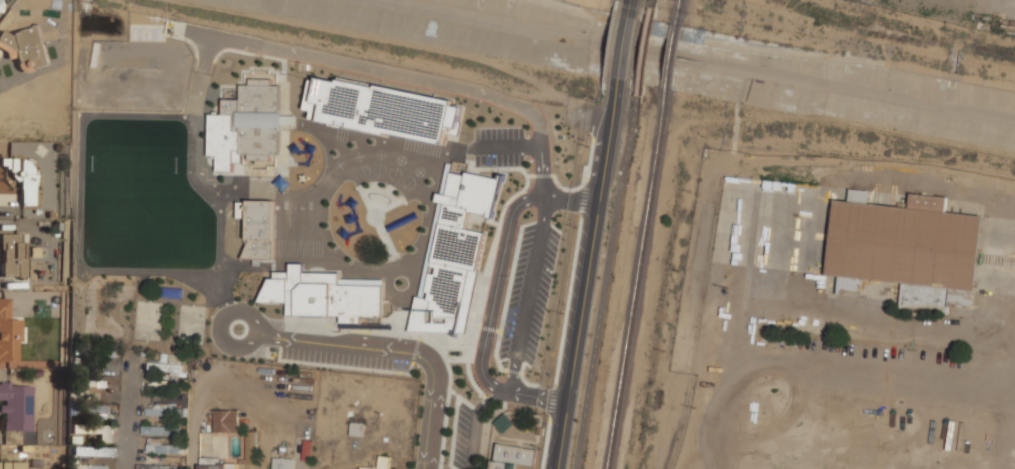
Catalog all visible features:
building: (1, 5)
road: (628, 6)
road: (645, 10)
railway: (678, 14)
road: (642, 30)
road: (640, 41)
building: (25, 47)
road: (621, 49)
road: (773, 52)
road: (639, 53)
railway: (671, 58)
building: (382, 108)
building: (257, 118)
building: (289, 119)
building: (22, 178)
building: (242, 208)
building: (342, 217)
building: (478, 237)
building: (907, 250)
building: (13, 255)
road: (606, 265)
road: (585, 277)
railway: (637, 278)
building: (462, 285)
building: (173, 292)
building: (326, 295)
building: (508, 309)
building: (431, 311)
building: (455, 311)
building: (8, 332)
building: (440, 341)
building: (486, 355)
building: (409, 361)
building: (168, 363)
building: (158, 384)
building: (92, 385)
building: (435, 389)
building: (16, 406)
building: (92, 409)
building: (165, 409)
building: (430, 413)
building: (460, 417)
building: (226, 421)
road: (131, 423)
building: (504, 423)
building: (93, 428)
building: (357, 428)
building: (161, 430)
building: (166, 448)
building: (307, 449)
building: (426, 449)
building: (95, 451)
building: (455, 455)
building: (512, 455)
building: (216, 463)
building: (284, 463)
building: (379, 463)
building: (13, 465)
building: (158, 466)
building: (96, 467)
building: (422, 467)

